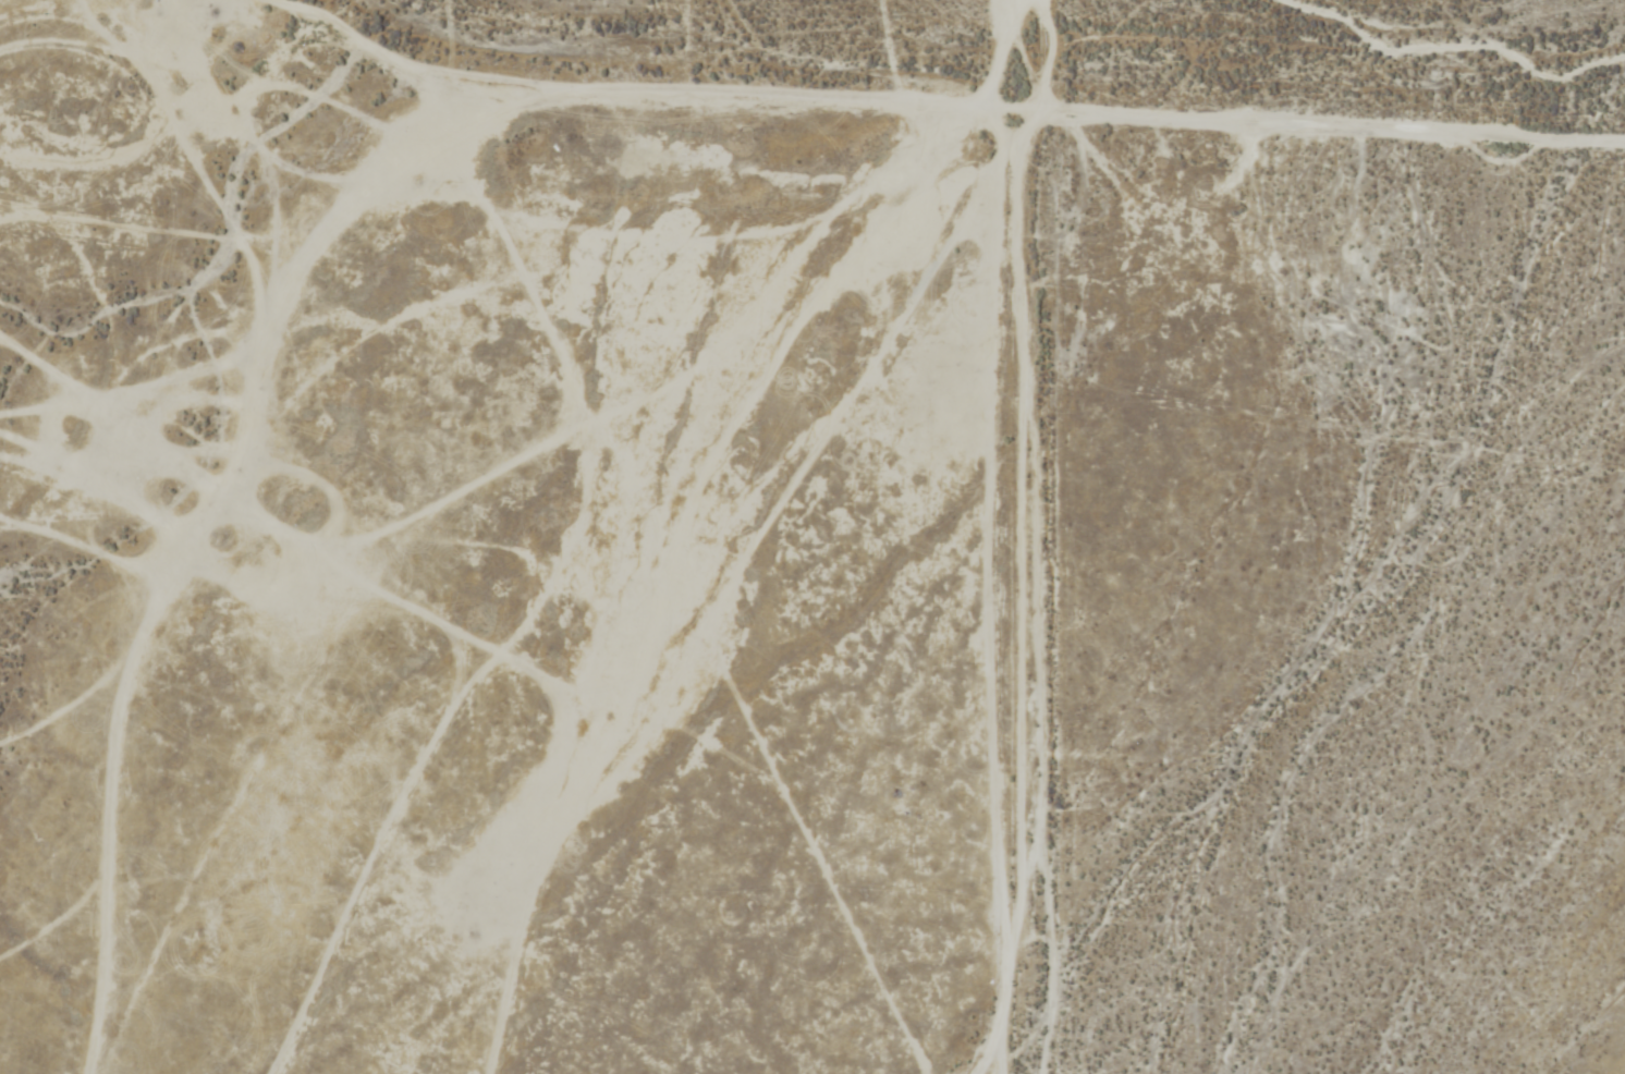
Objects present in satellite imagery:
road: (297, 45)

